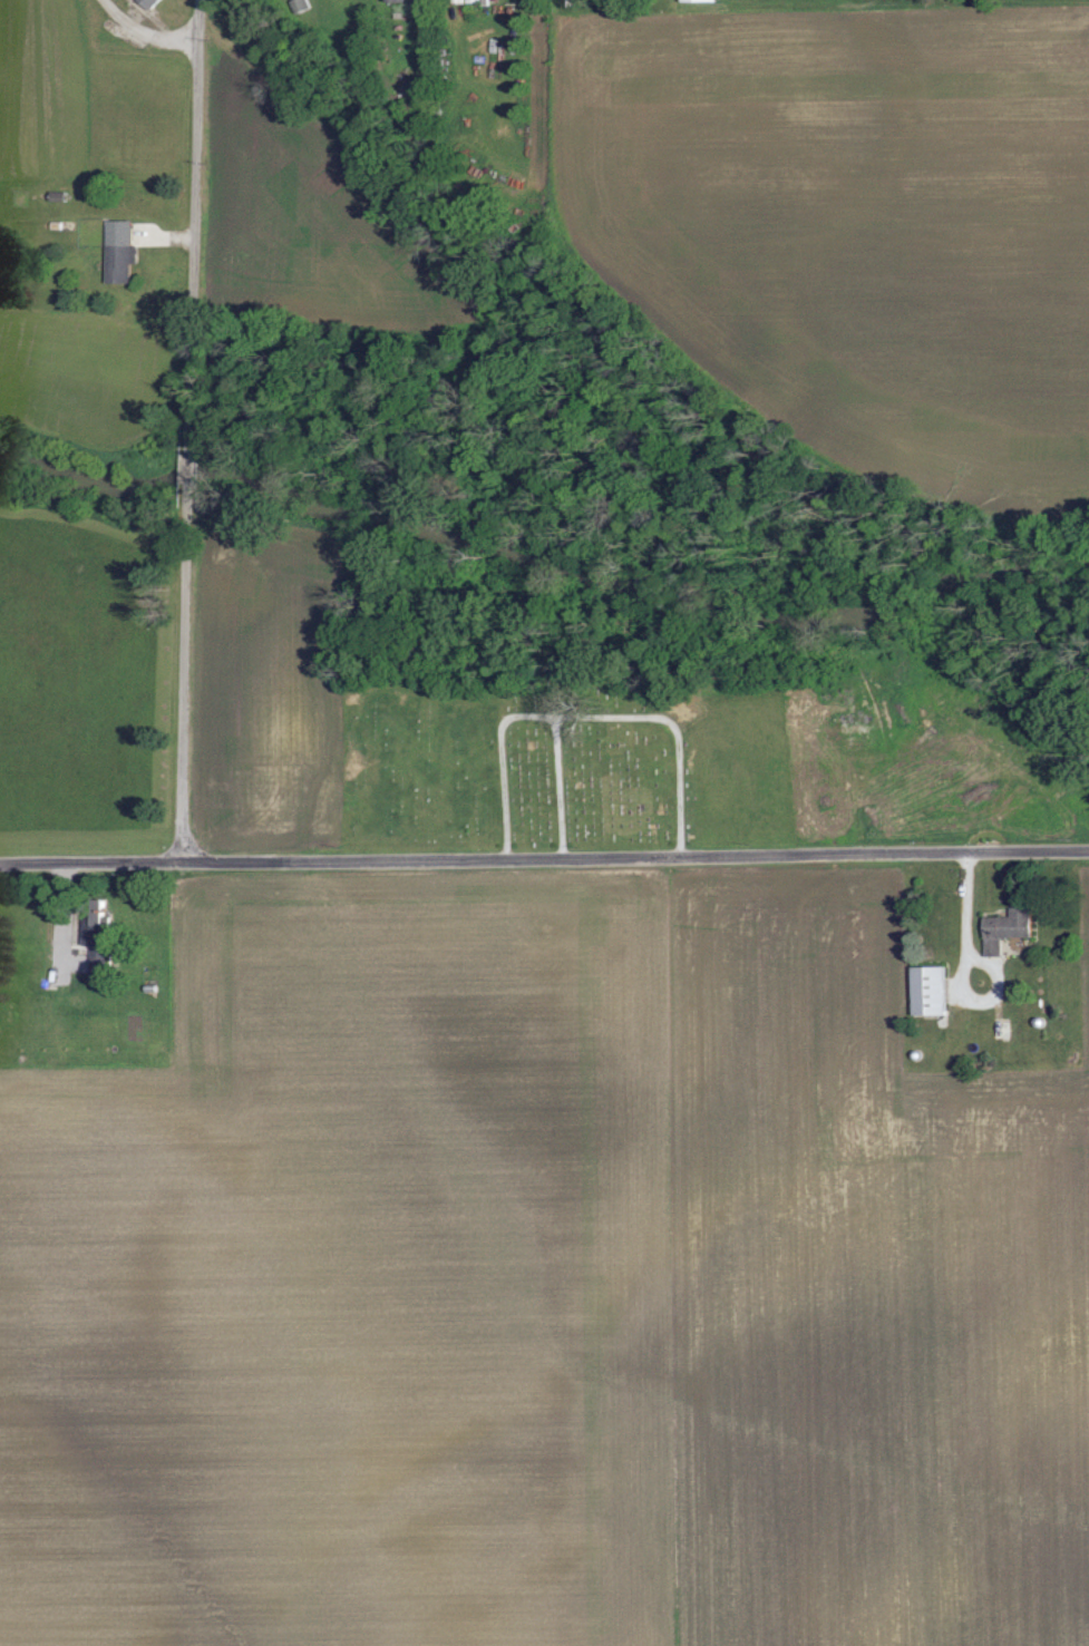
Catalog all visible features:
building: (400, 0)
building: (704, 0)
building: (467, 1)
building: (153, 2)
building: (302, 6)
road: (145, 35)
road: (200, 228)
building: (123, 251)
road: (198, 477)
road: (192, 682)
road: (586, 720)
park: (572, 769)
road: (558, 792)
road: (544, 865)
building: (1011, 928)
building: (103, 945)
building: (934, 991)
building: (4, 1009)

